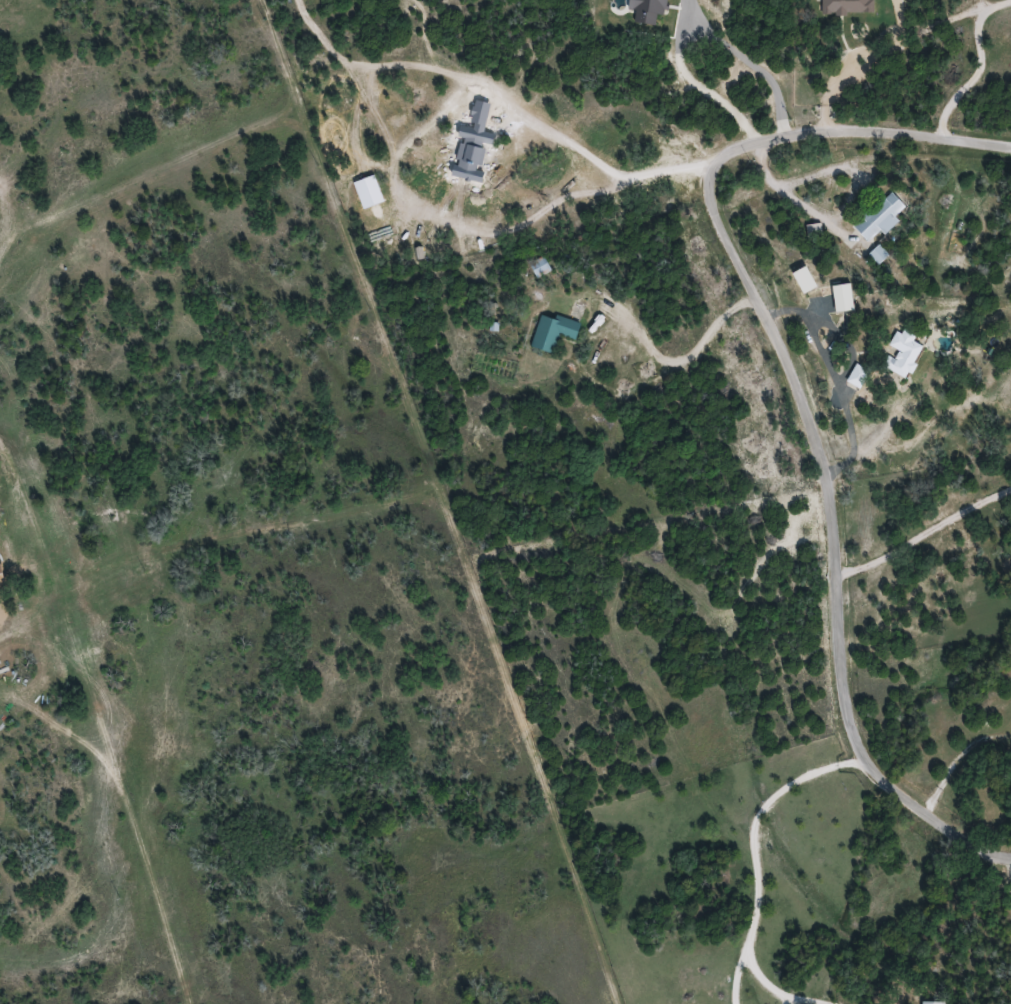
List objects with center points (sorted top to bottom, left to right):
building: (843, 6)
road: (953, 14)
road: (508, 97)
building: (876, 218)
building: (875, 253)
building: (538, 267)
building: (550, 331)
building: (898, 353)
building: (854, 376)
road: (803, 390)
road: (760, 849)
building: (930, 1002)

